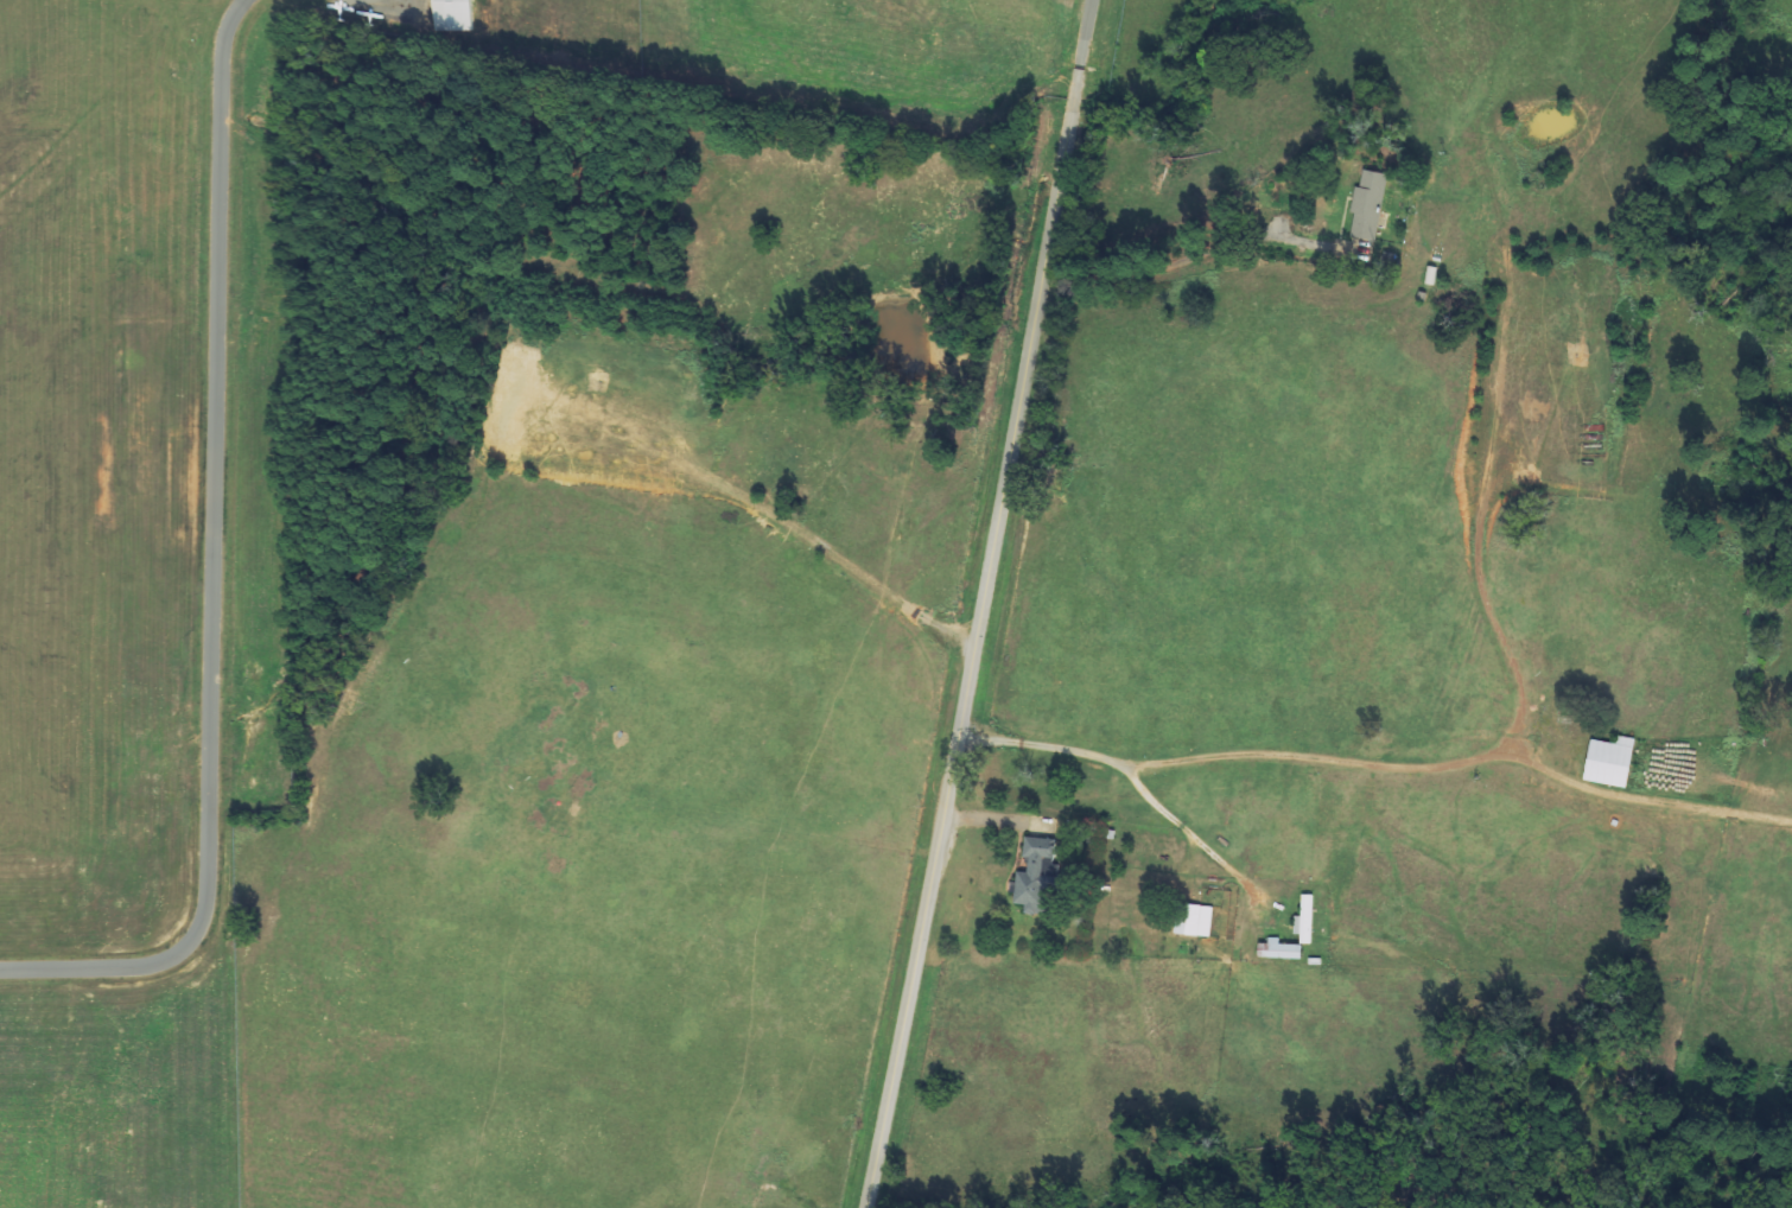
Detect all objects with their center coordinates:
airport hangar: (452, 15)
building: (452, 15)
building: (1368, 206)
airport: (259, 482)
road: (981, 604)
building: (1609, 762)
building: (1037, 877)
building: (1194, 921)
building: (1304, 921)
building: (1279, 950)

